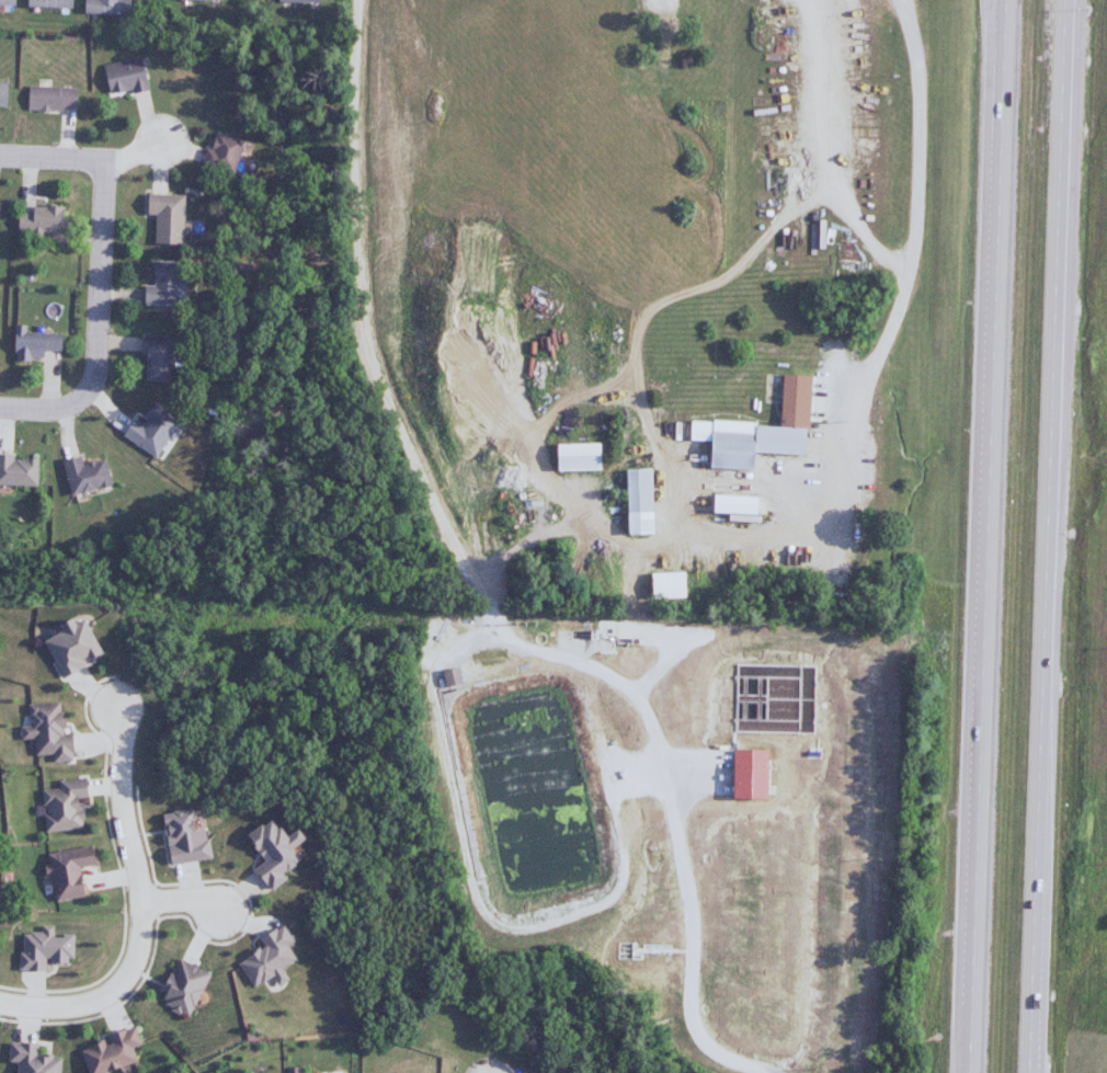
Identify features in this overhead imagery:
building: (196, 0)
building: (297, 1)
building: (5, 2)
building: (45, 3)
building: (650, 3)
building: (103, 7)
building: (662, 44)
building: (122, 78)
building: (1, 93)
building: (48, 100)
building: (218, 152)
road: (79, 156)
building: (162, 217)
building: (37, 221)
road: (855, 238)
building: (158, 285)
road: (96, 319)
road: (115, 341)
building: (31, 343)
building: (152, 359)
road: (47, 381)
road: (101, 402)
road: (1, 426)
road: (64, 427)
building: (760, 432)
building: (140, 435)
building: (574, 458)
building: (16, 471)
building: (82, 476)
building: (635, 503)
building: (731, 505)
road: (986, 536)
road: (1051, 536)
road: (700, 544)
building: (663, 586)
road: (479, 592)
building: (67, 648)
building: (447, 678)
building: (44, 732)
building: (60, 807)
building: (65, 871)
road: (187, 908)
road: (147, 921)
building: (265, 958)
building: (180, 988)
building: (105, 1051)
building: (26, 1059)

